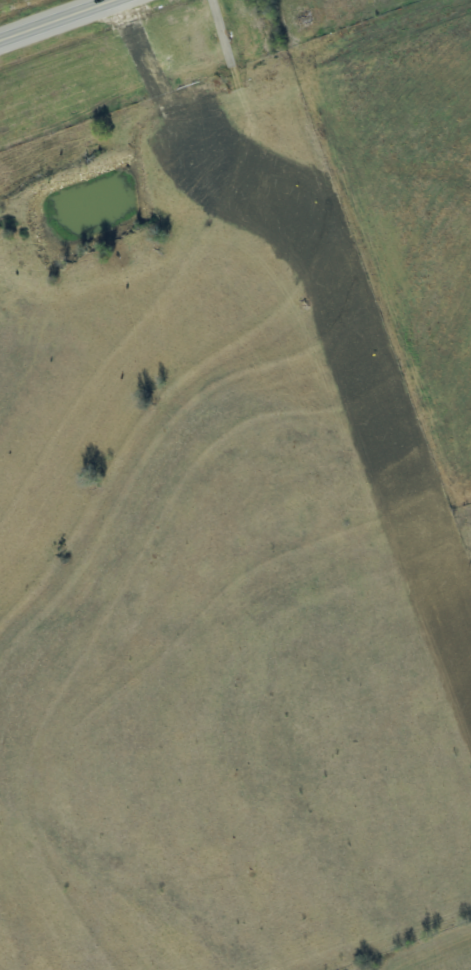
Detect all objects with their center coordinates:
road: (52, 18)

